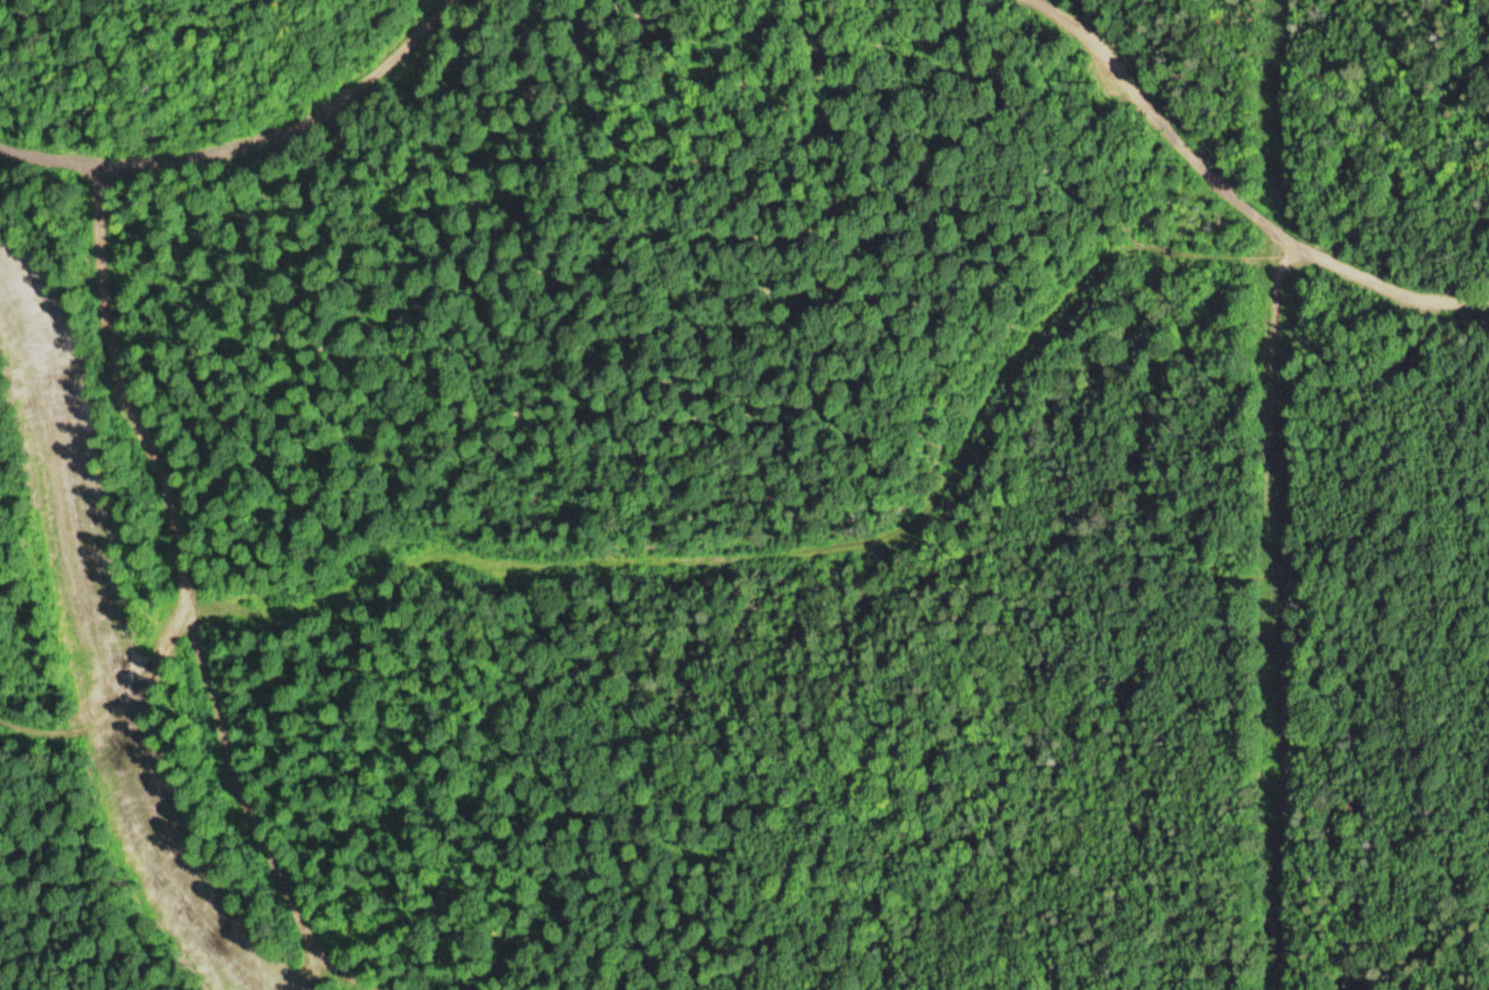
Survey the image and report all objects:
road: (257, 151)
road: (1227, 185)
road: (1278, 605)

